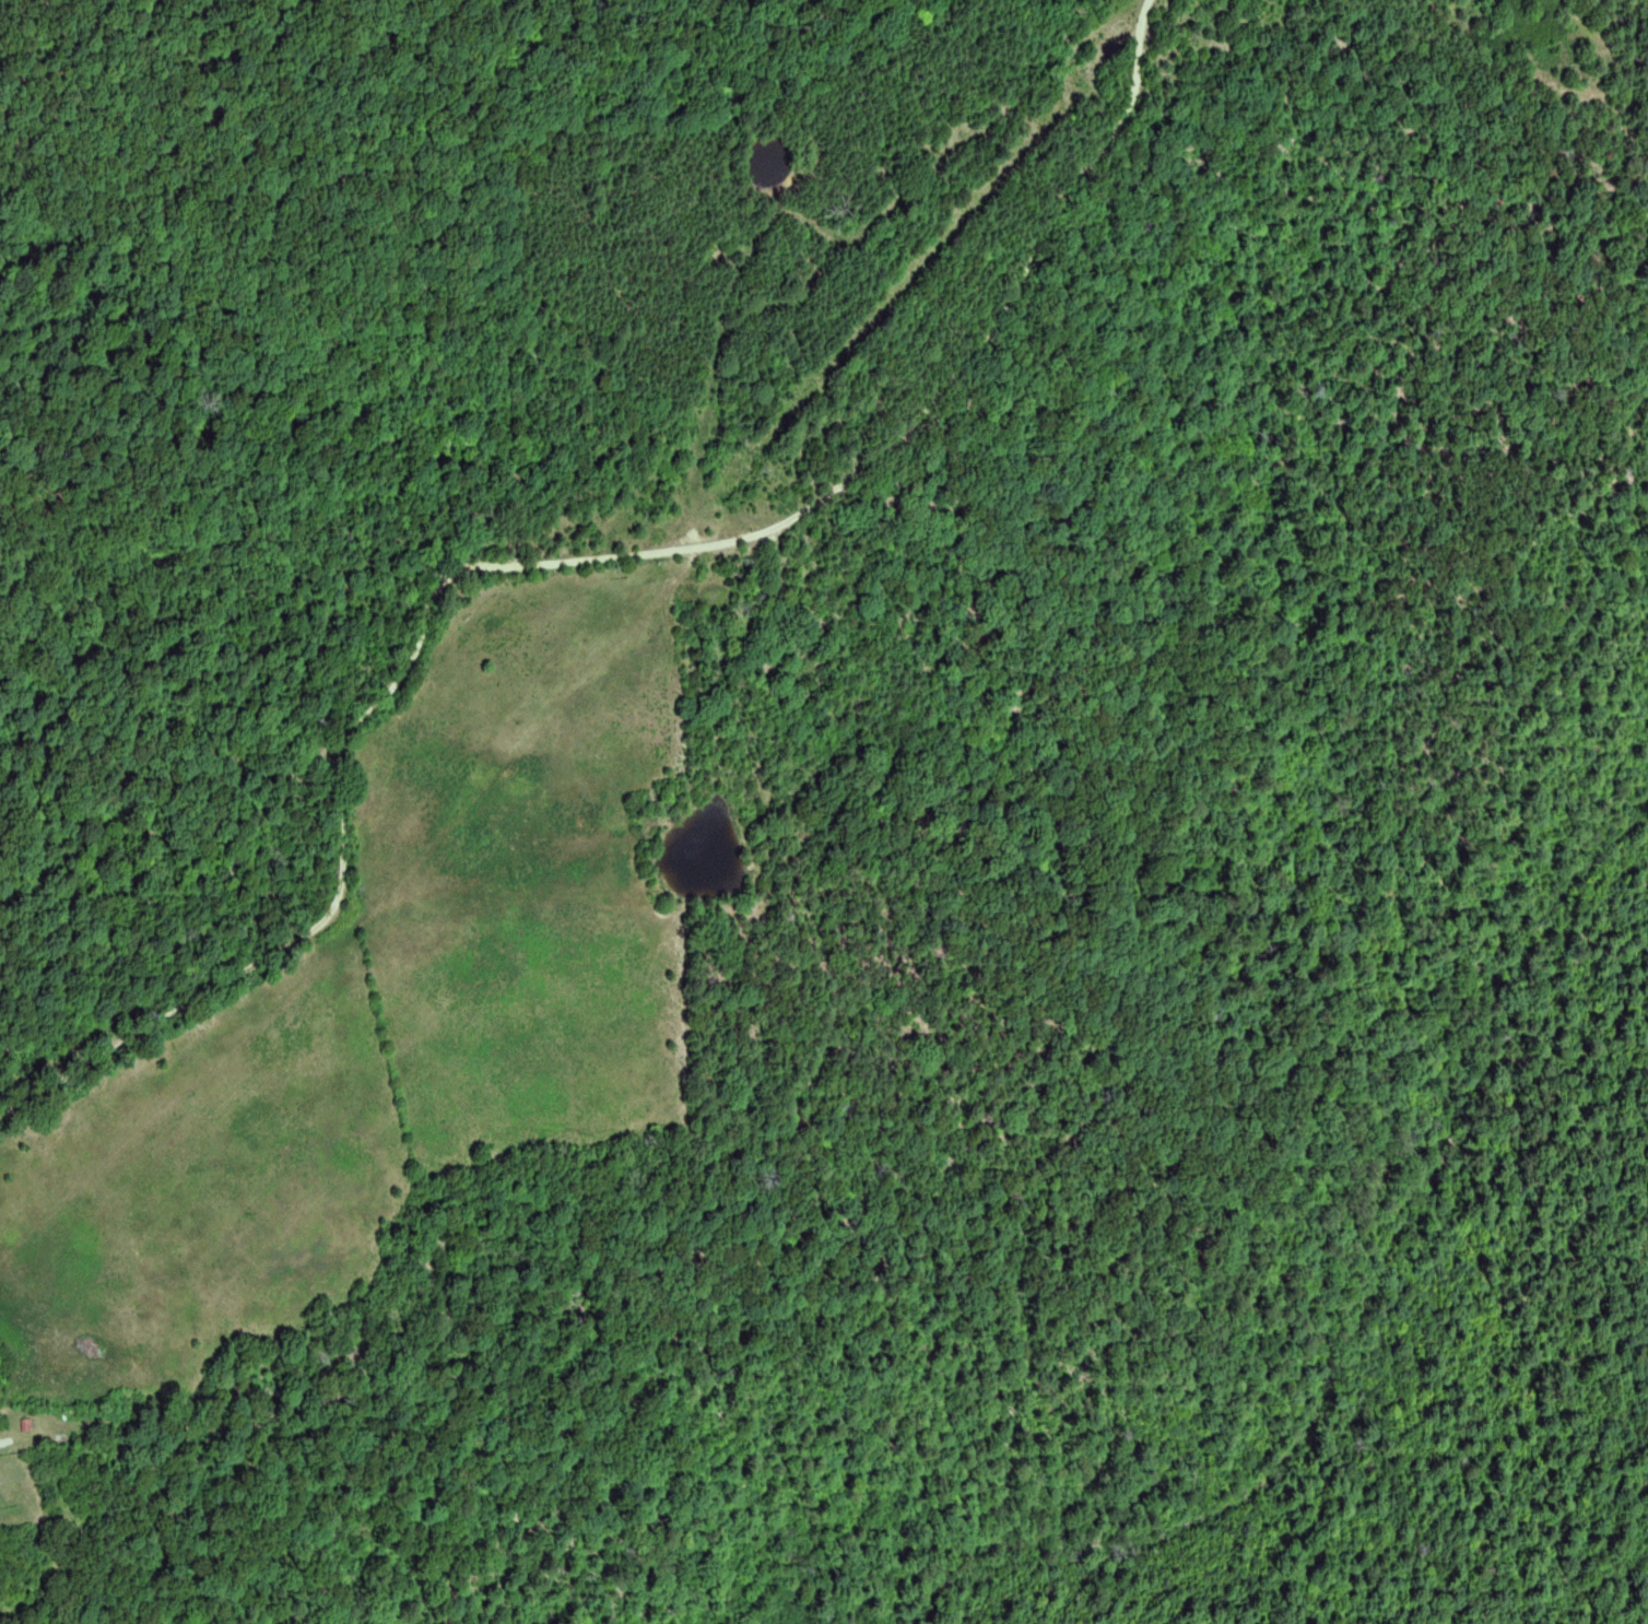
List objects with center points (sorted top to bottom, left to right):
road: (563, 560)

